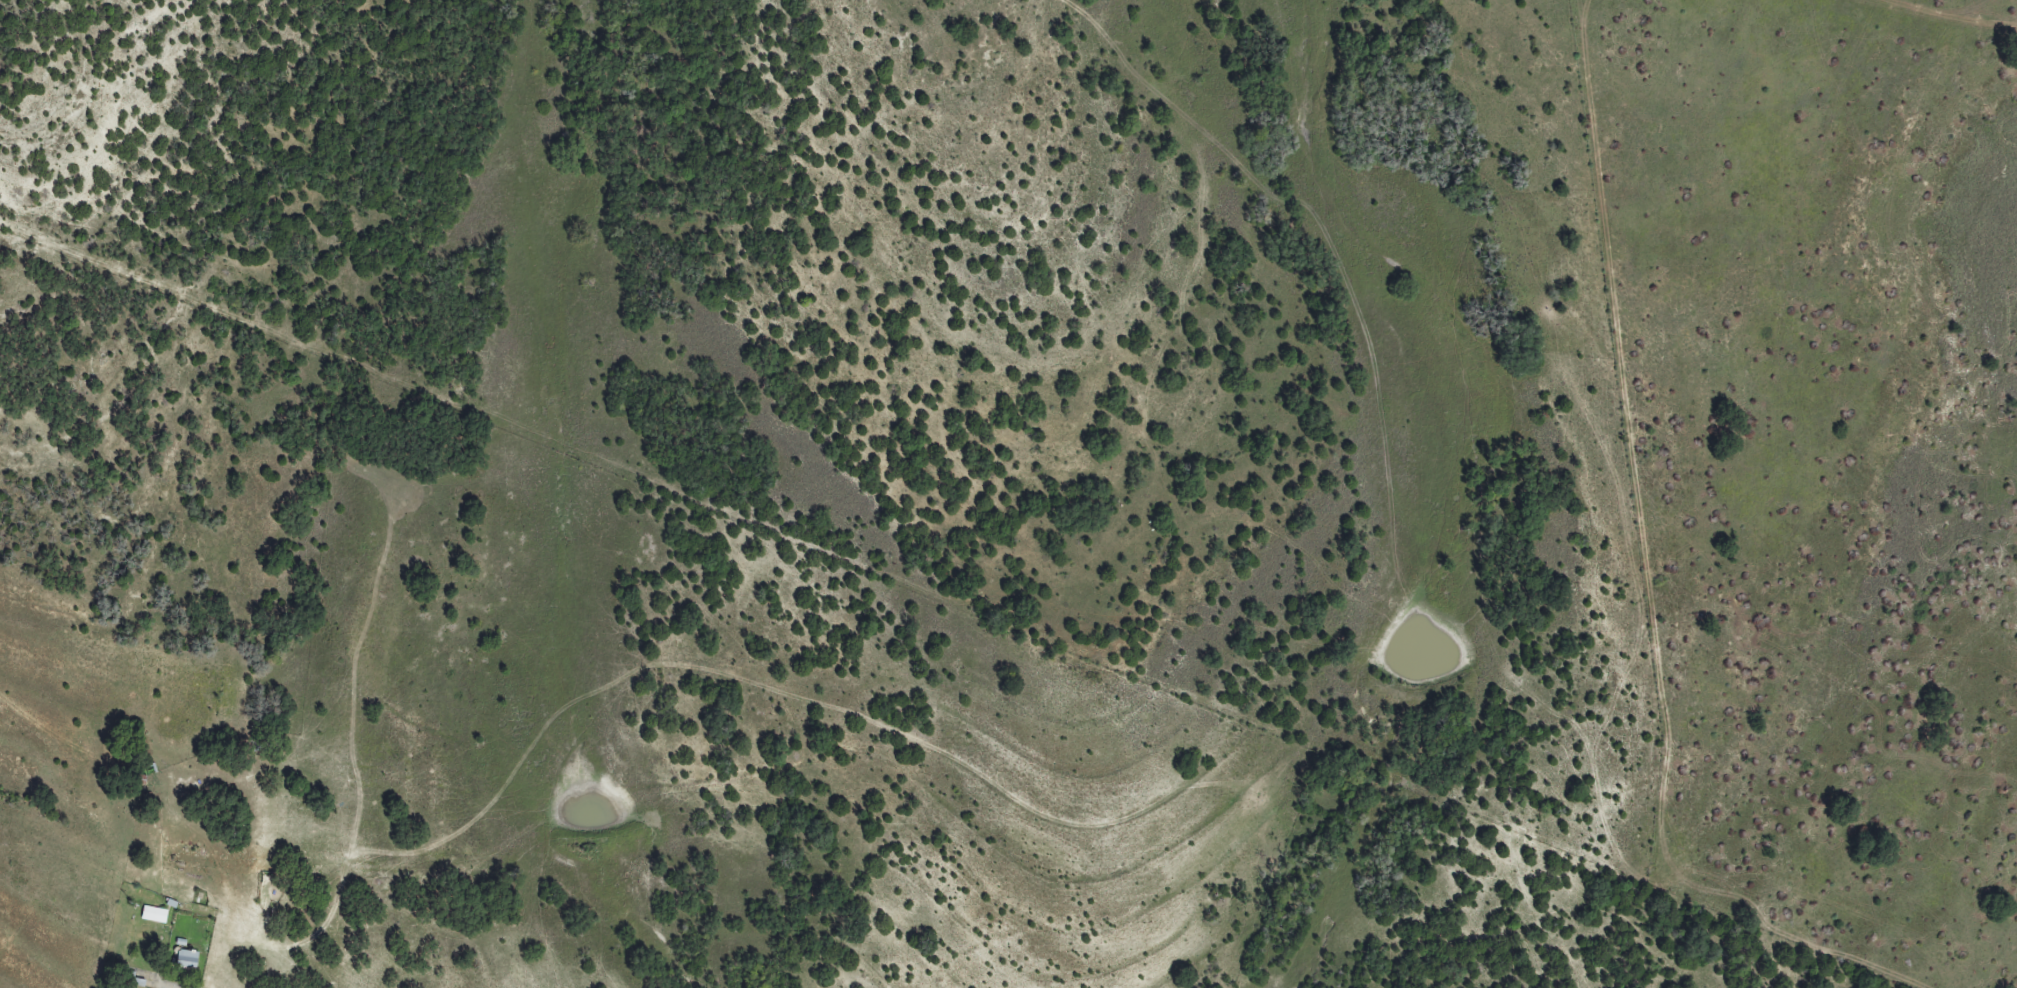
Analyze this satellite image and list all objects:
building: (184, 962)

